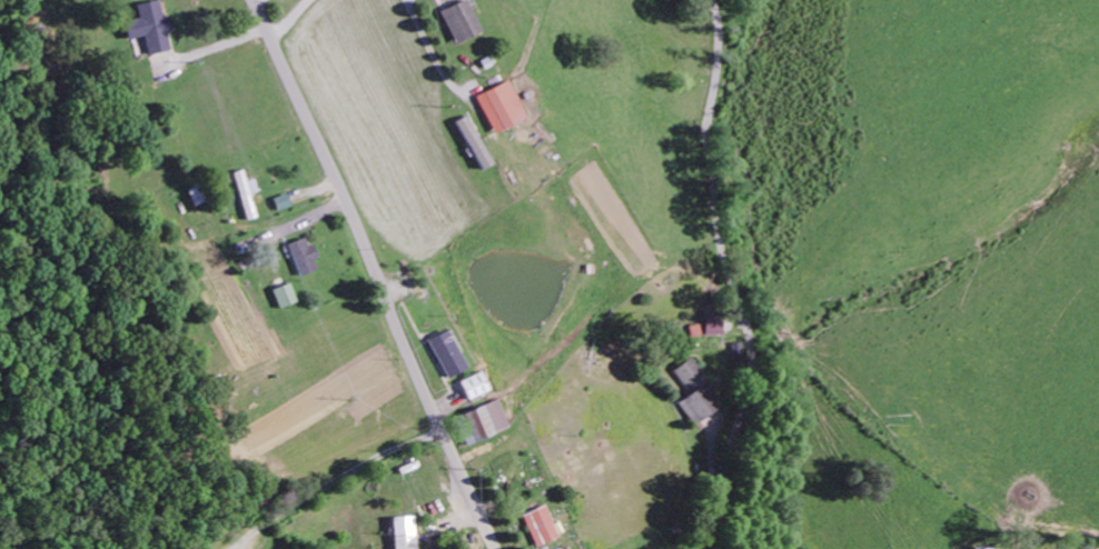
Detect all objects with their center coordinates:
building: (458, 23)
building: (150, 30)
building: (498, 110)
building: (472, 146)
building: (245, 197)
building: (280, 204)
building: (303, 260)
road: (375, 273)
road: (733, 278)
building: (284, 298)
building: (713, 328)
building: (446, 357)
building: (472, 388)
building: (692, 393)
building: (495, 418)
building: (537, 527)
building: (400, 532)
building: (972, 548)

